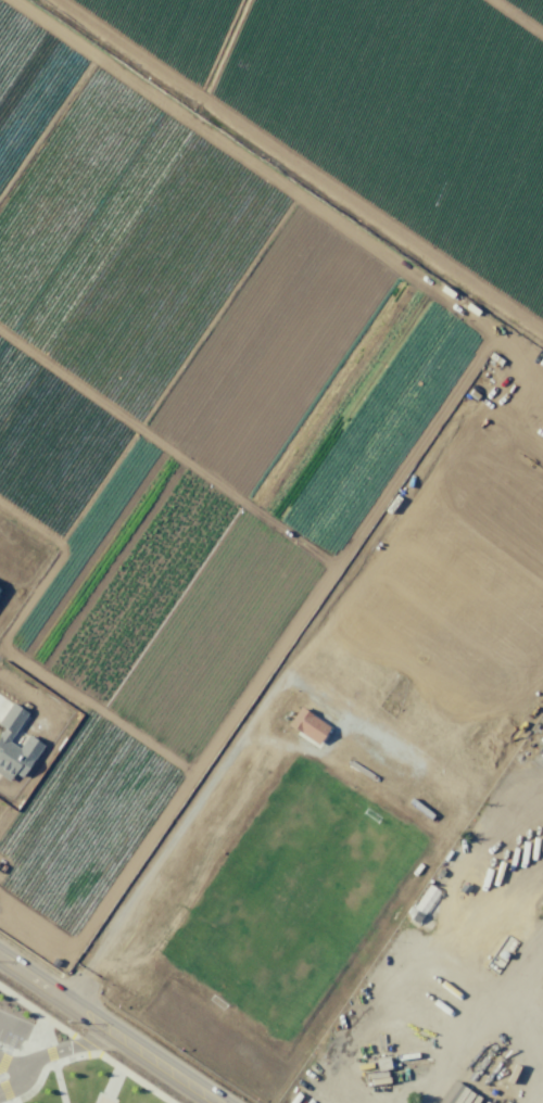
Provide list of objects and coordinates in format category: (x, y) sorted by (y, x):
crop: (262, 487)
building: (306, 725)
building: (14, 746)
building: (425, 899)
road: (3, 1020)
road: (109, 1029)
road: (55, 1051)
road: (20, 1079)
building: (454, 1094)

